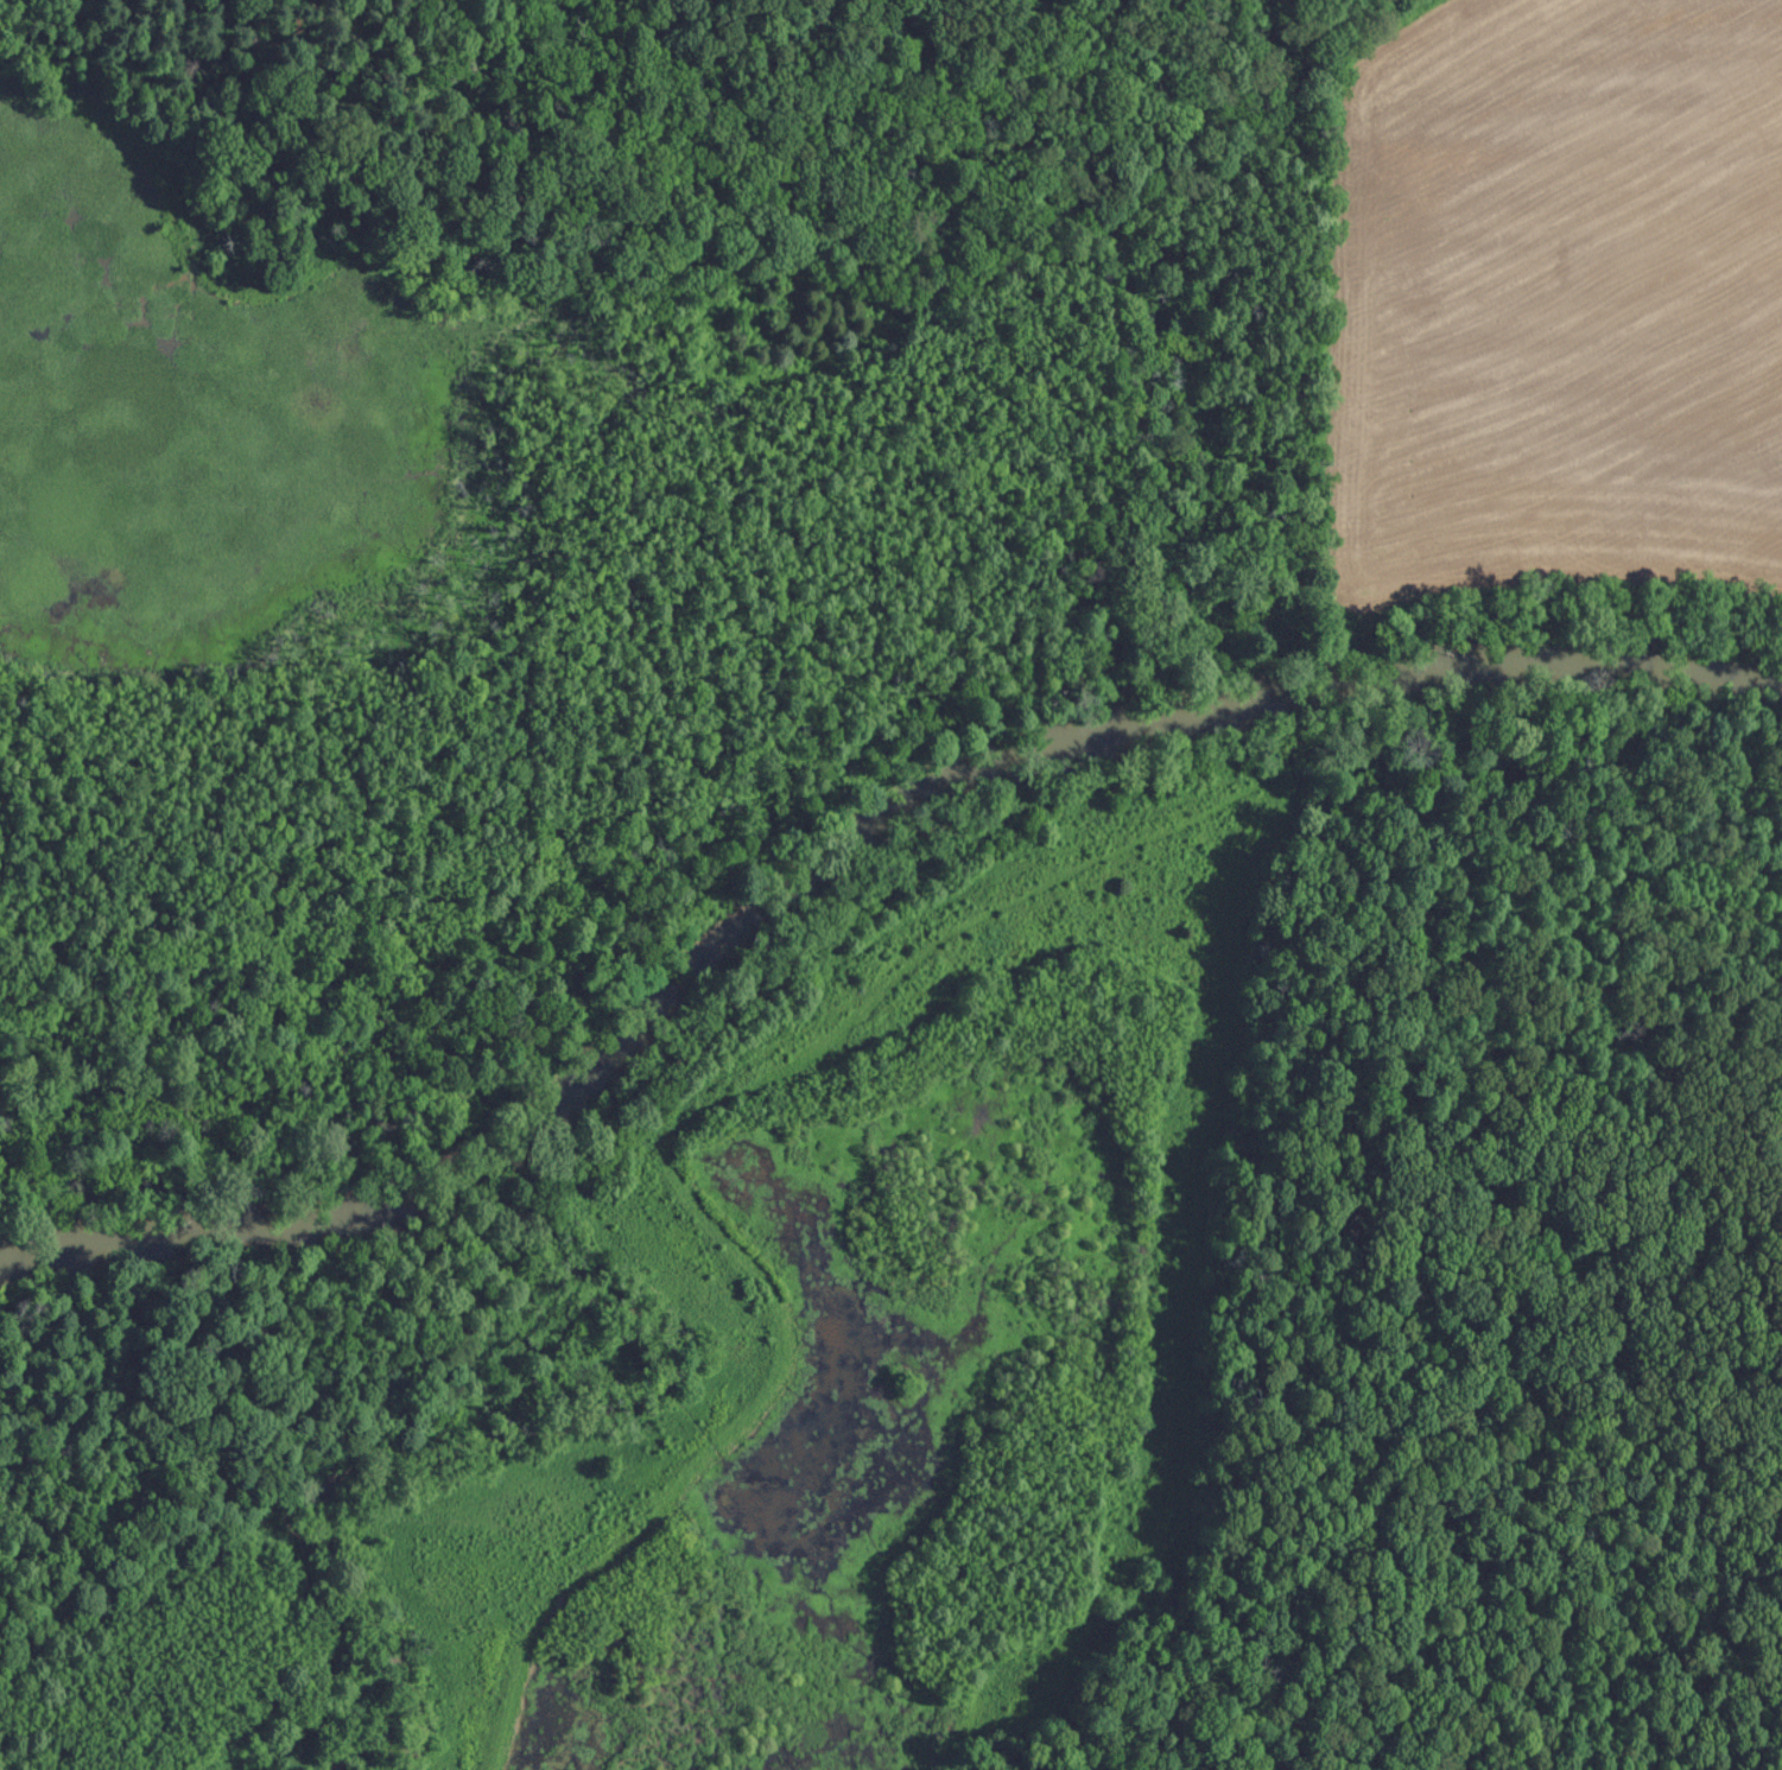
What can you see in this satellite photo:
road: (721, 324)
river: (831, 854)

